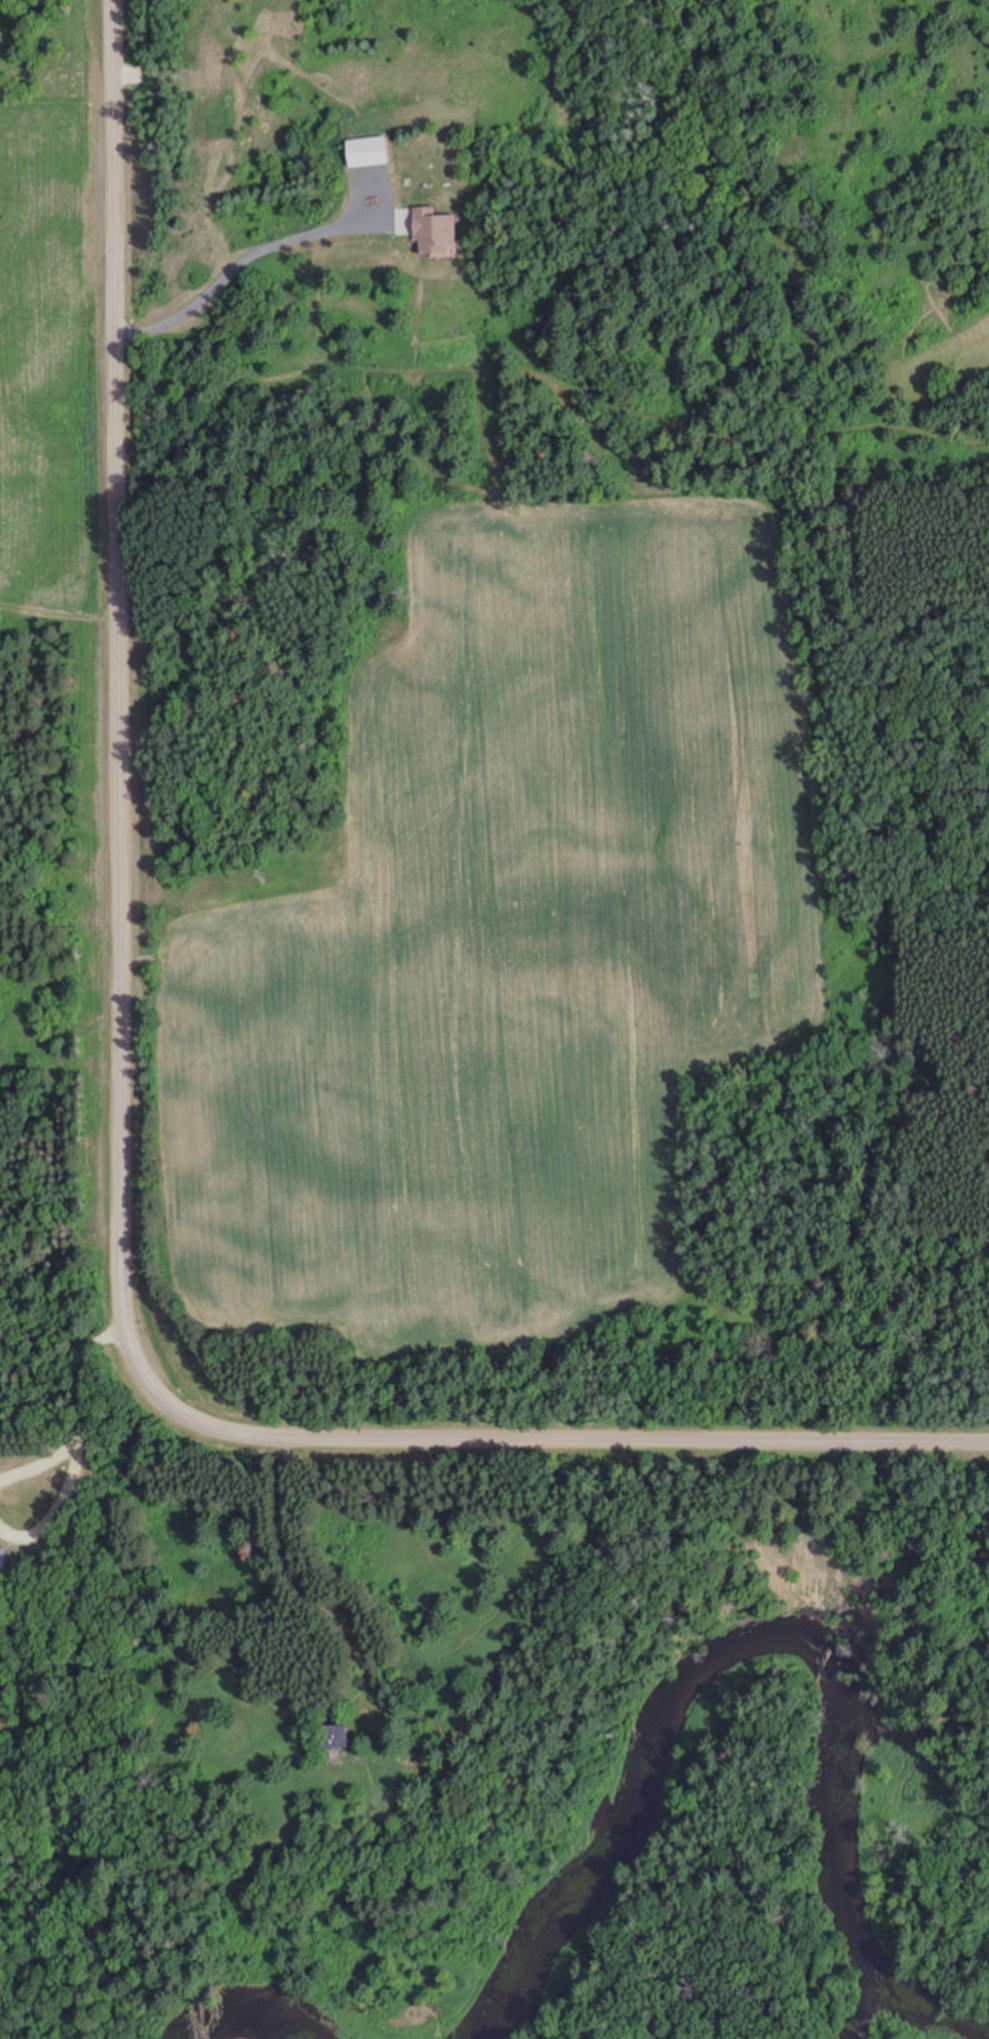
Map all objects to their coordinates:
road: (237, 135)
building: (364, 153)
building: (430, 234)
road: (121, 704)
road: (85, 1409)
road: (573, 1434)
road: (633, 1571)
river: (768, 1663)
building: (330, 1737)

